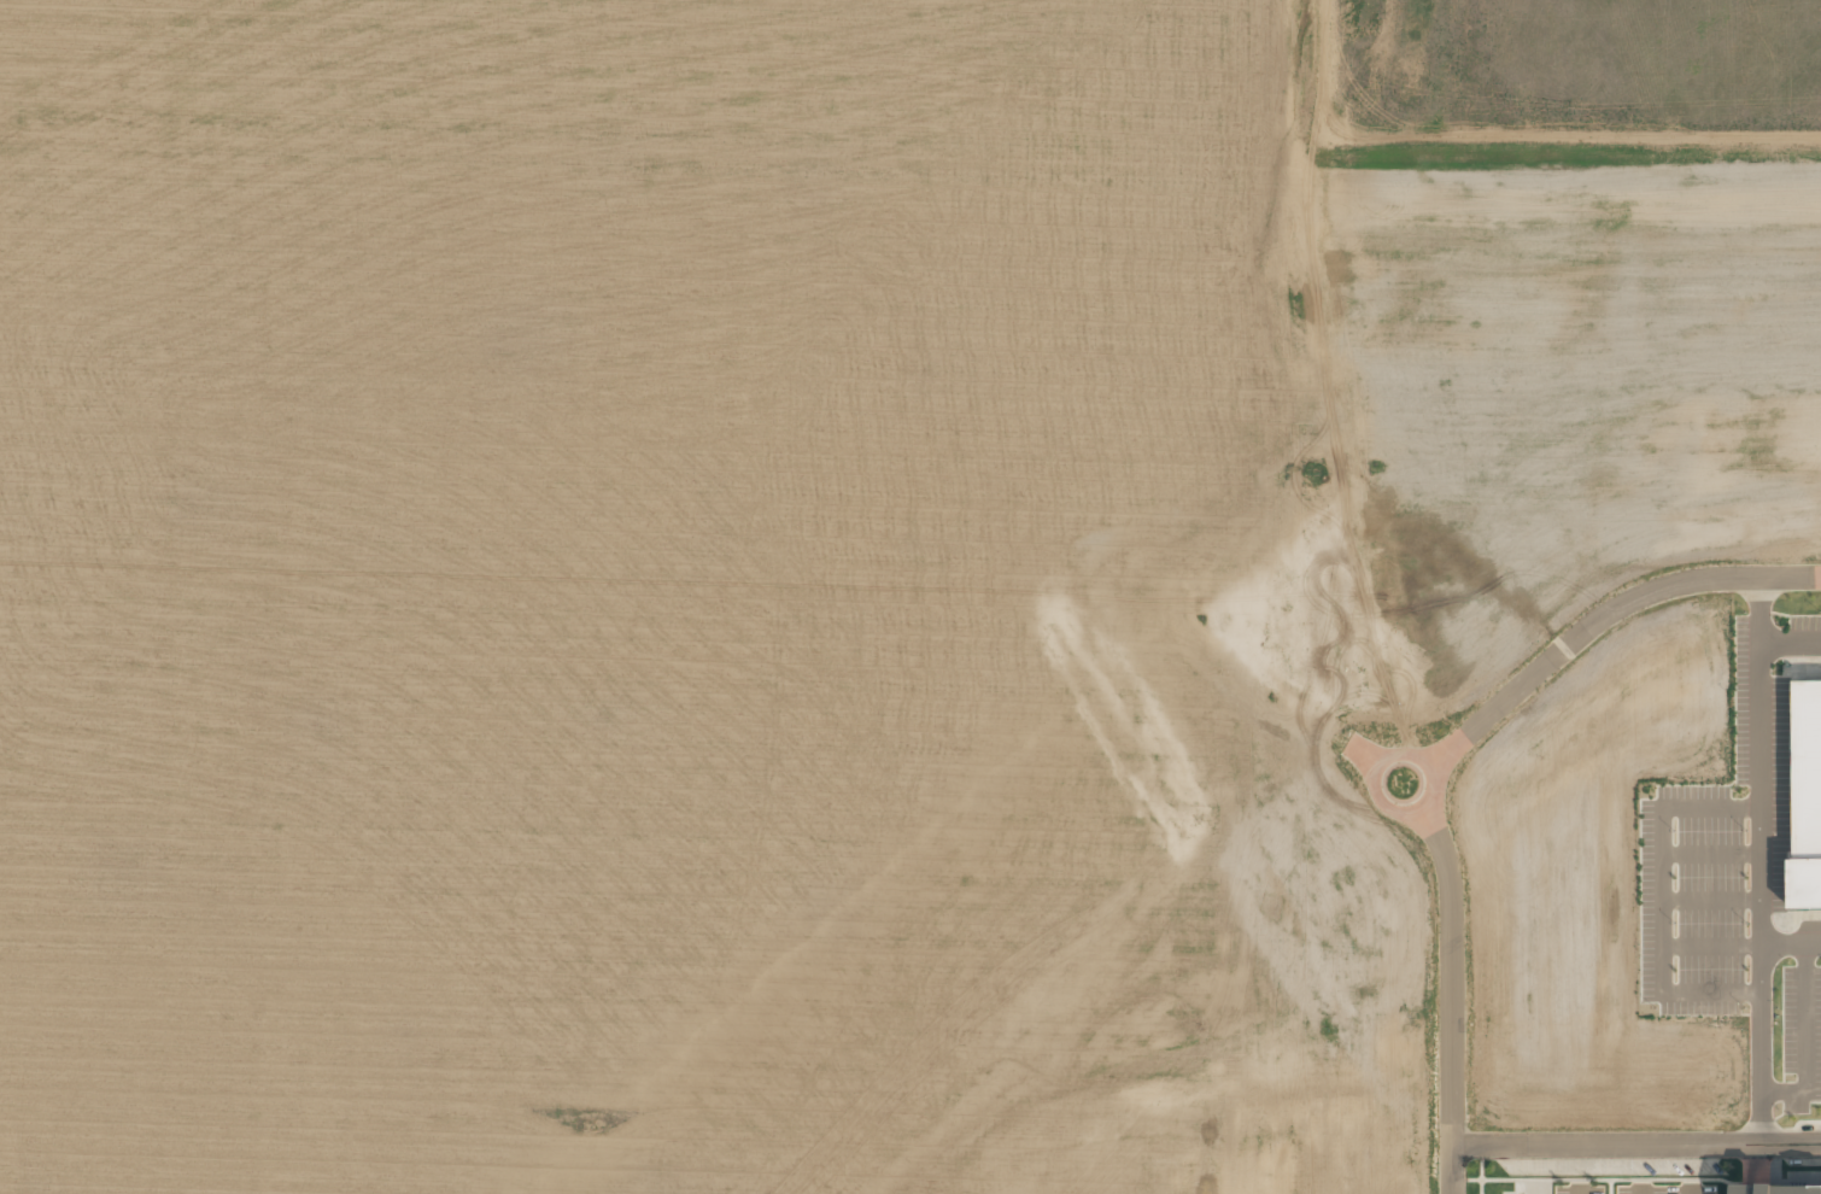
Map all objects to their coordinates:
road: (1599, 616)
road: (1378, 786)
building: (1810, 803)
road: (1450, 995)
road: (1635, 1146)
building: (1779, 1188)
road: (1579, 1193)
road: (1640, 1193)
road: (1690, 1193)

